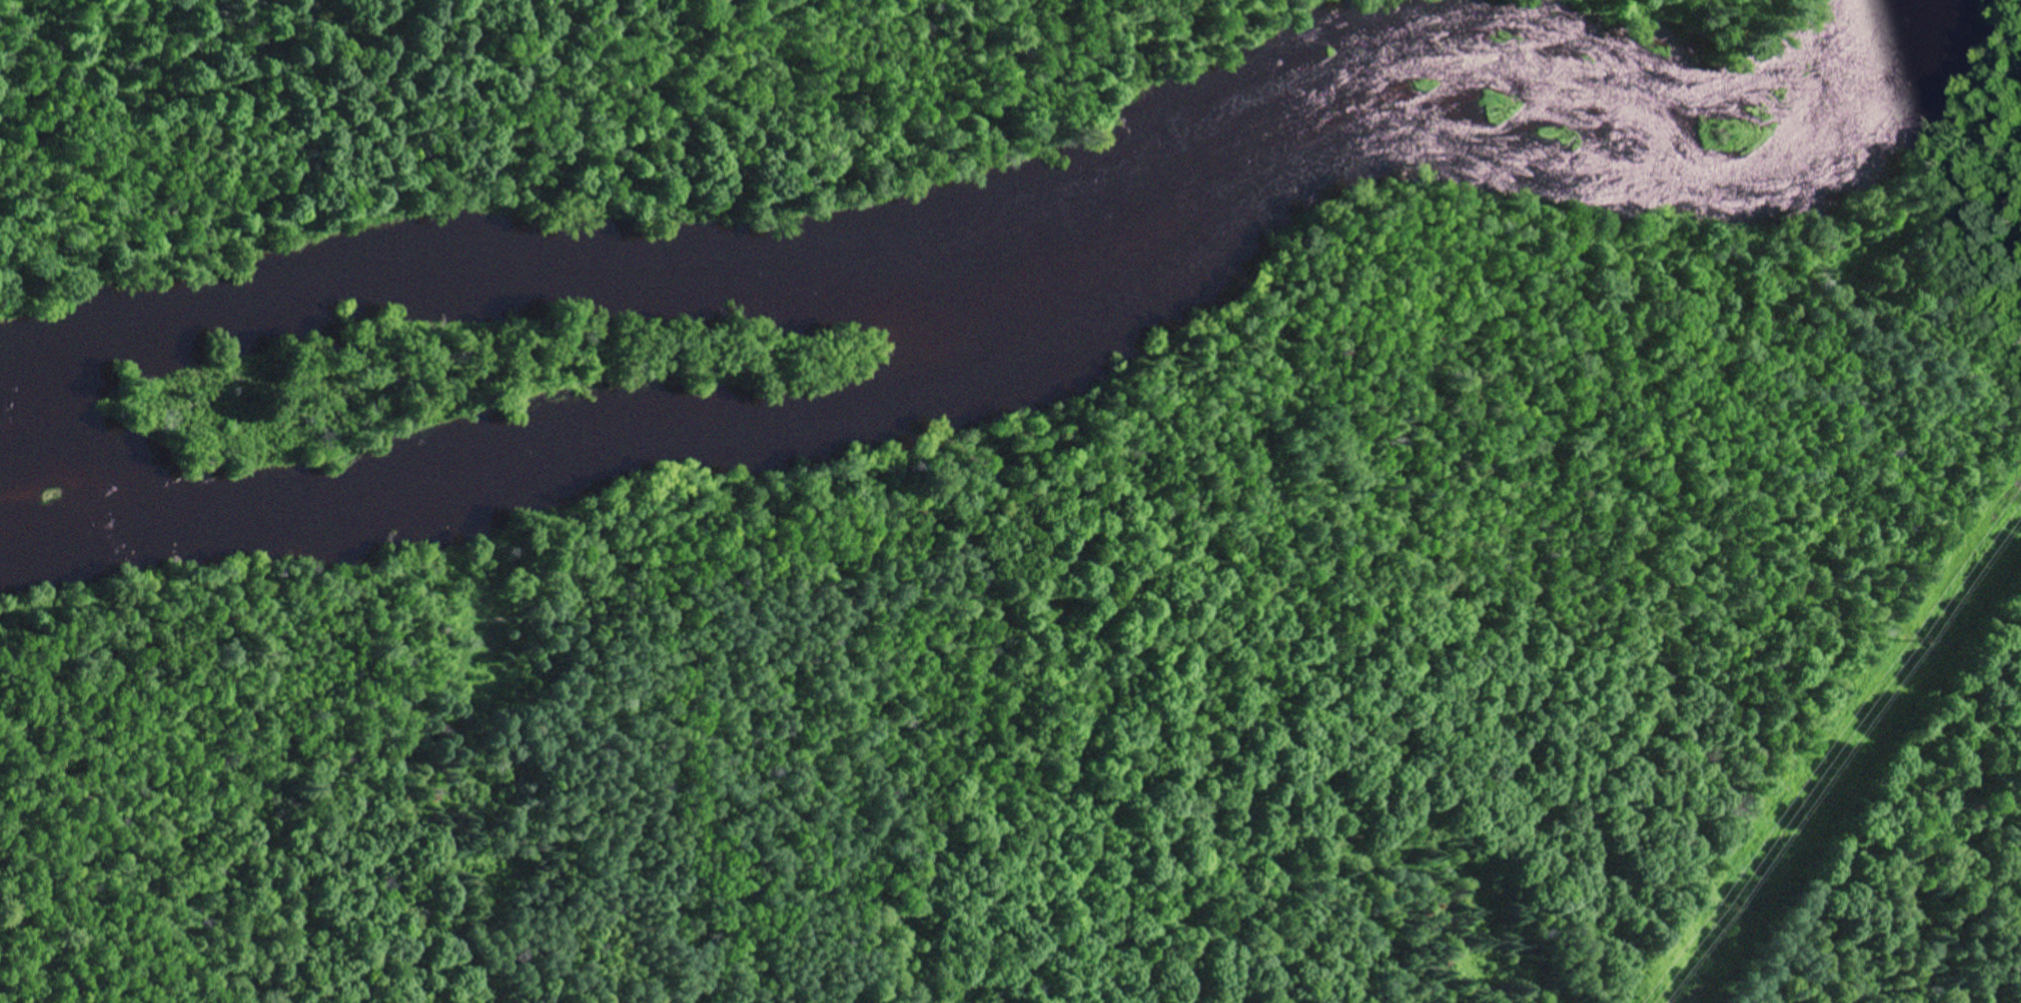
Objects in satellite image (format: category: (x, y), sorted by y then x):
river: (1015, 263)

